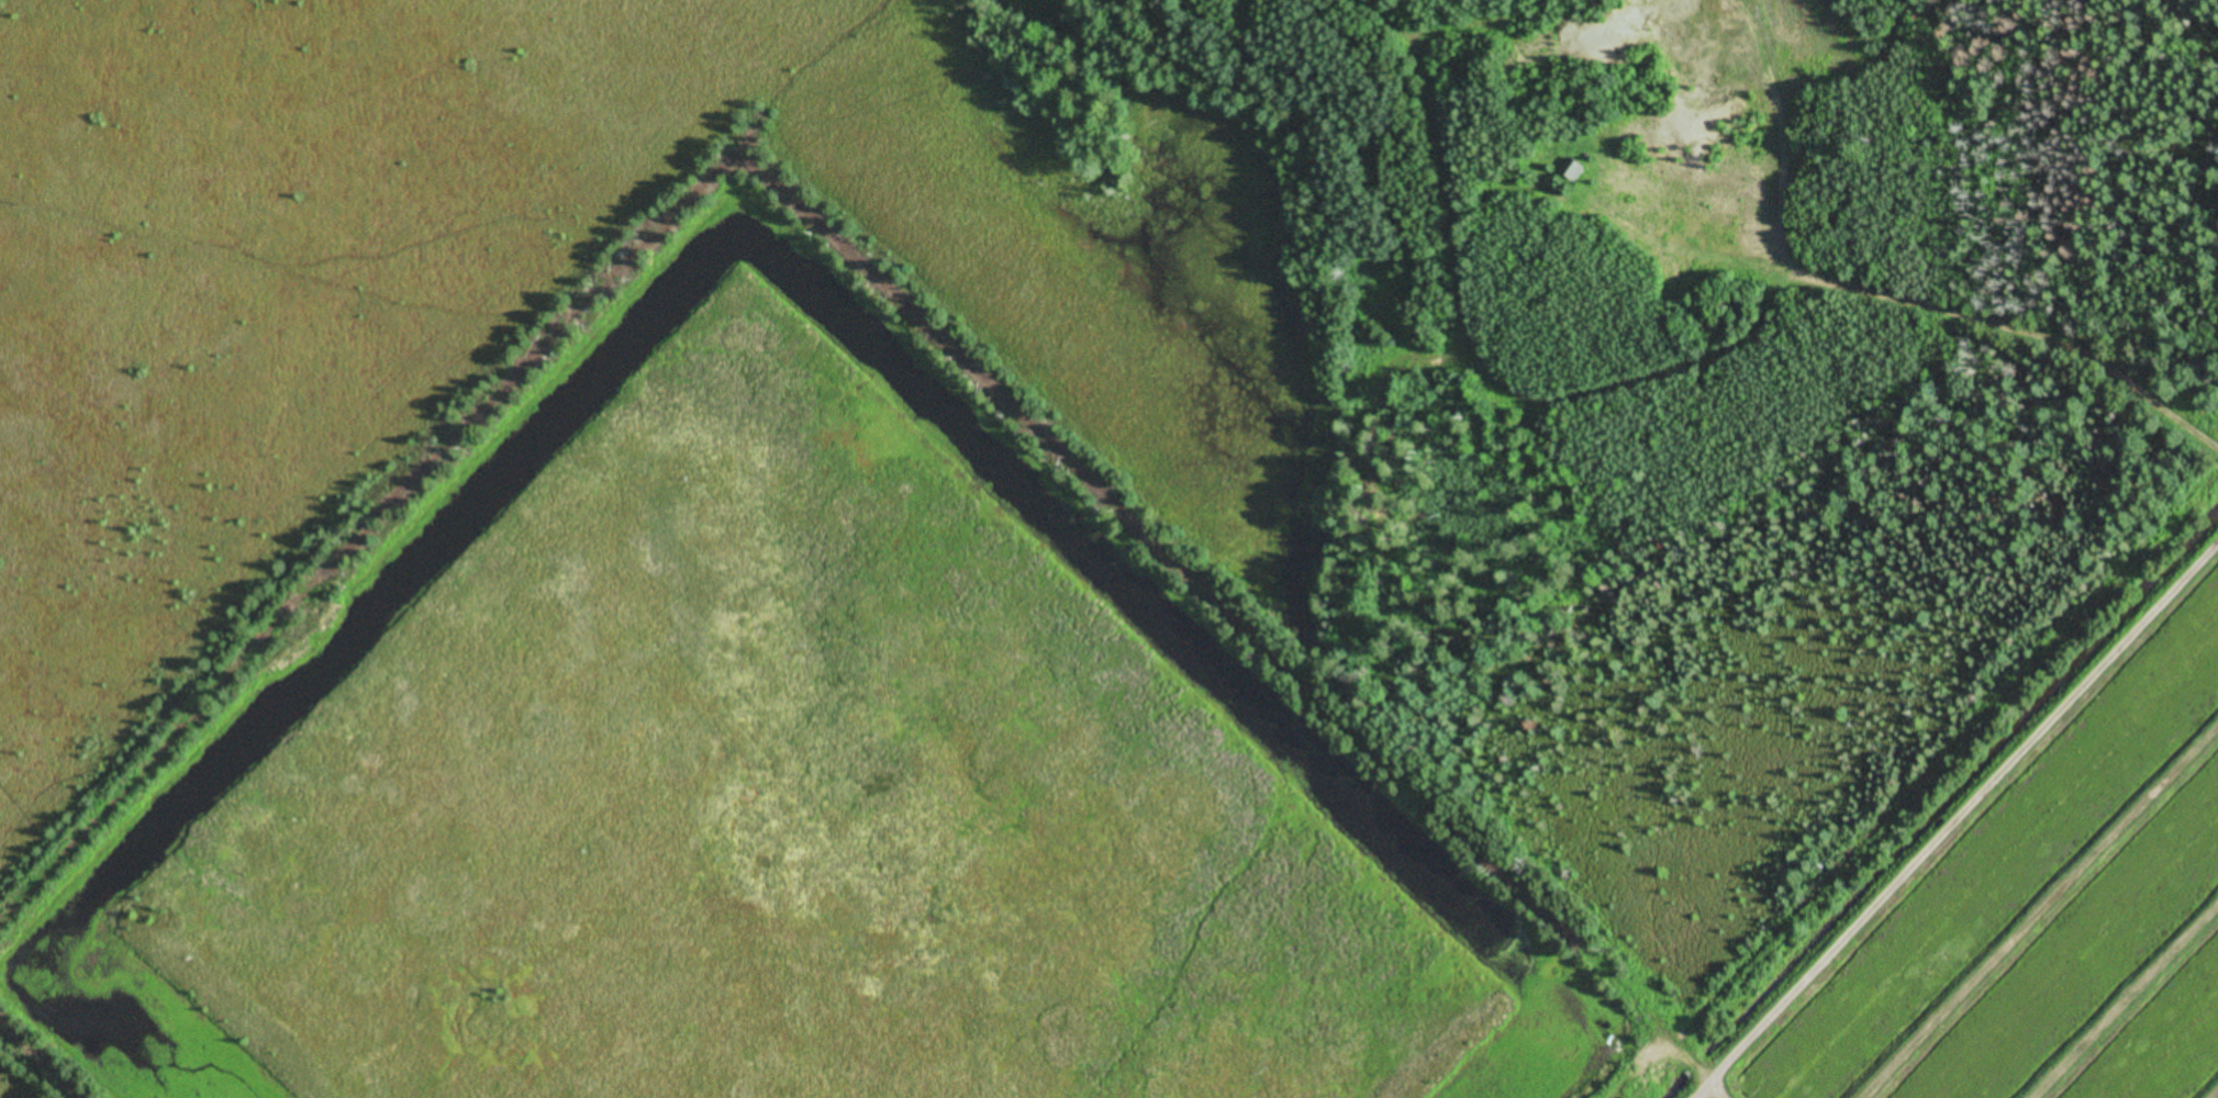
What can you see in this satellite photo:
building: (1568, 171)
crop: (2026, 897)

